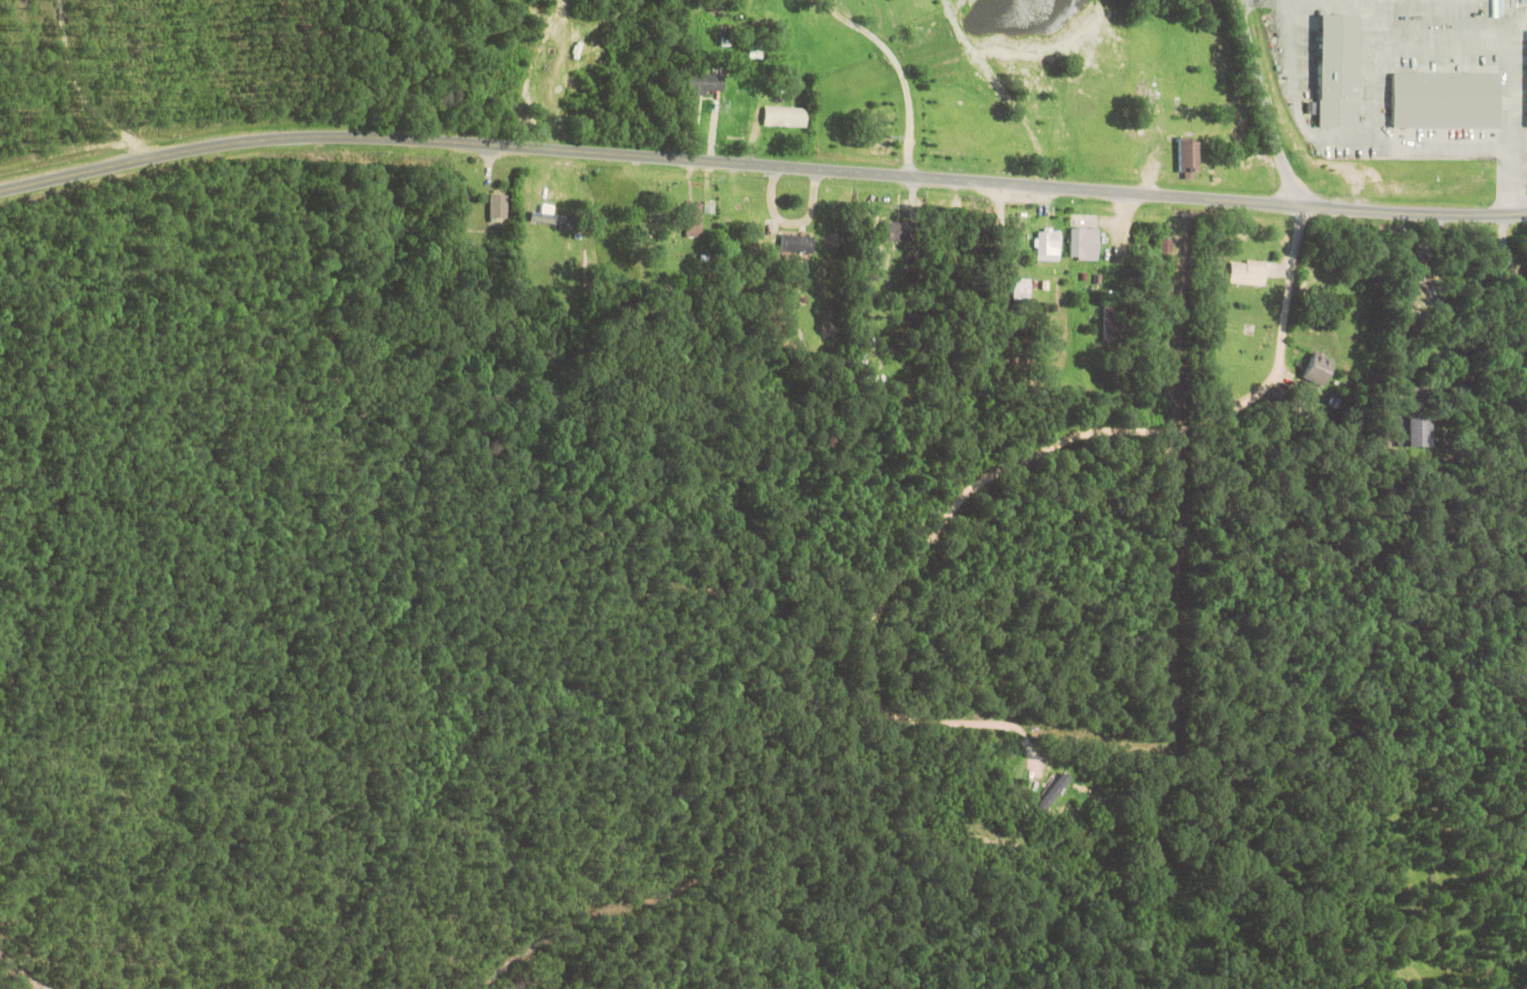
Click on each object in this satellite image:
building: (1335, 69)
building: (1524, 75)
building: (702, 83)
building: (1442, 99)
road: (1266, 102)
building: (784, 116)
building: (1191, 156)
road: (761, 165)
building: (499, 205)
building: (553, 217)
building: (695, 219)
building: (893, 230)
building: (1083, 241)
building: (797, 243)
building: (1045, 243)
road: (1507, 256)
building: (1250, 271)
building: (1023, 288)
building: (1316, 367)
building: (1412, 430)
road: (1019, 460)
building: (1054, 791)

